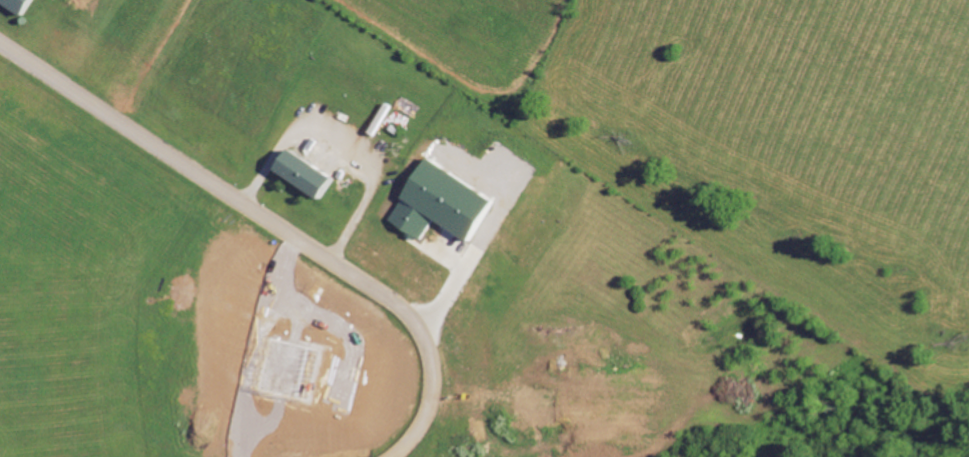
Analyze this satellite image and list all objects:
building: (18, 4)
road: (337, 145)
building: (306, 173)
building: (449, 204)
road: (271, 223)
road: (332, 318)
road: (255, 344)

